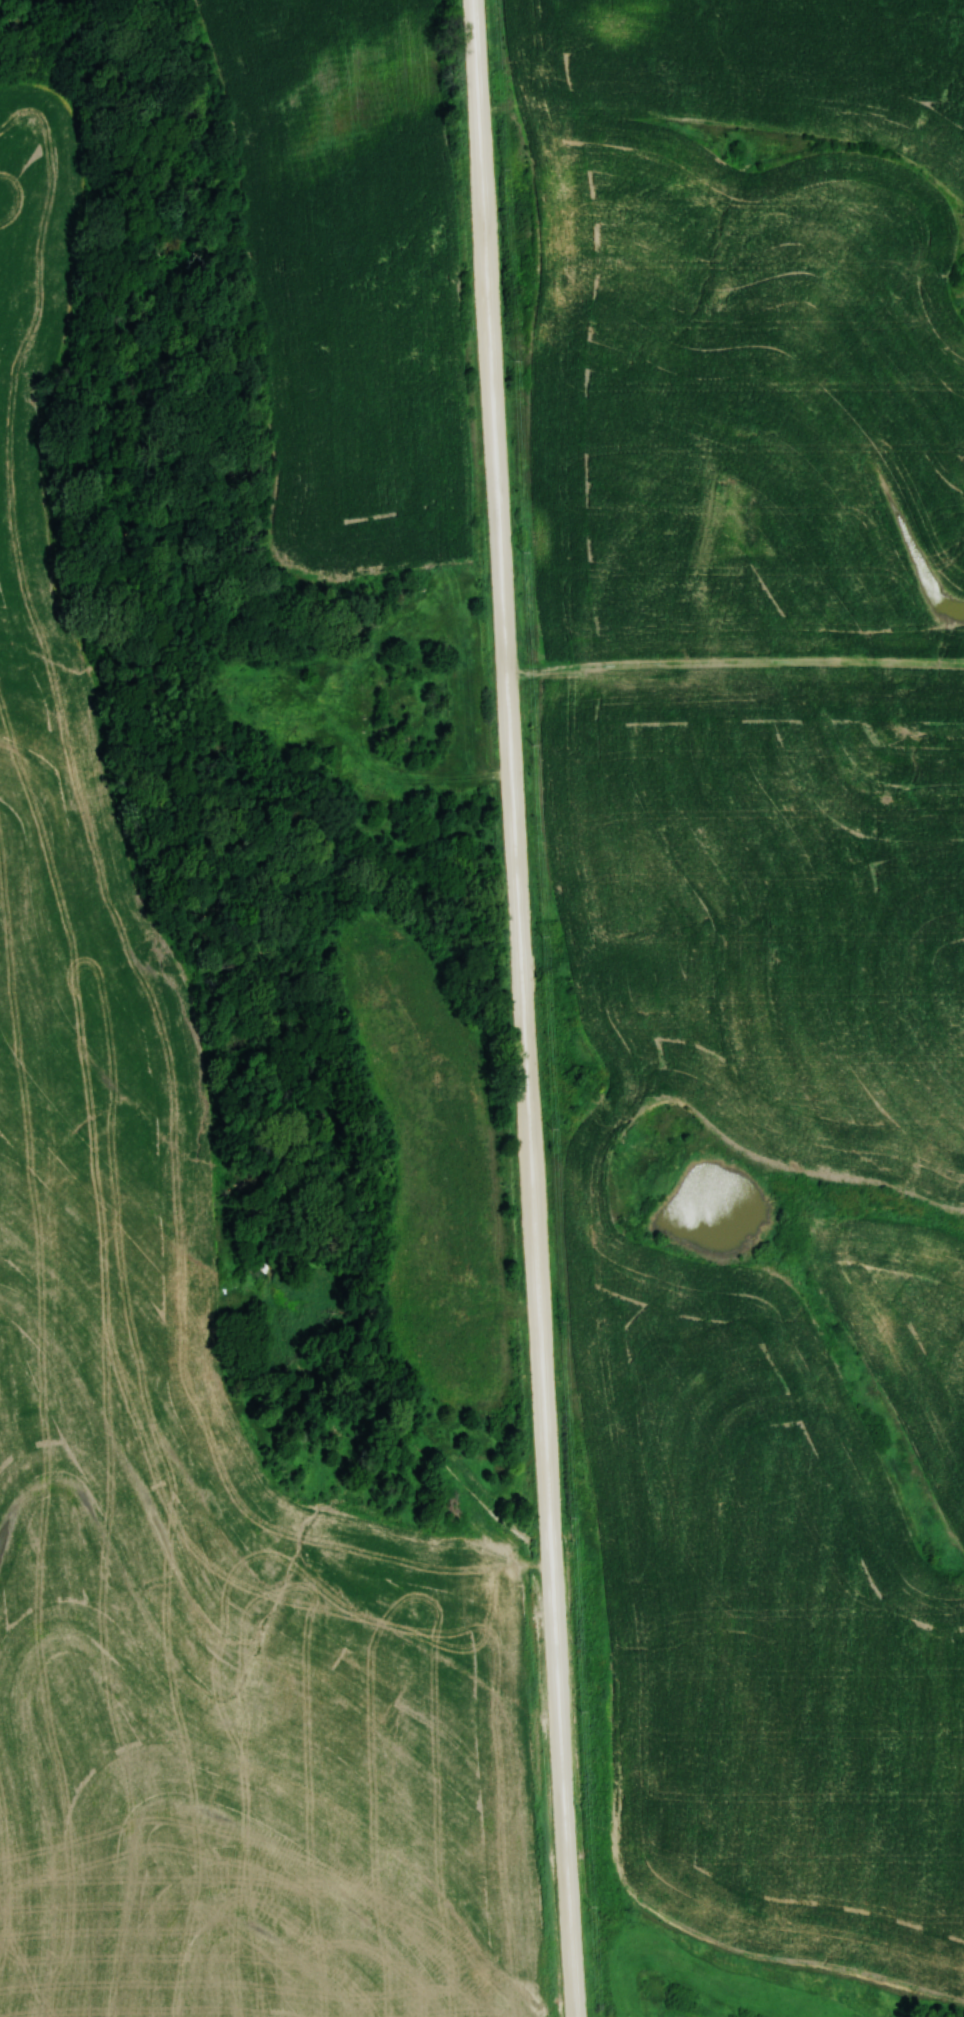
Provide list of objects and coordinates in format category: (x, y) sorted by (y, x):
road: (524, 1008)

